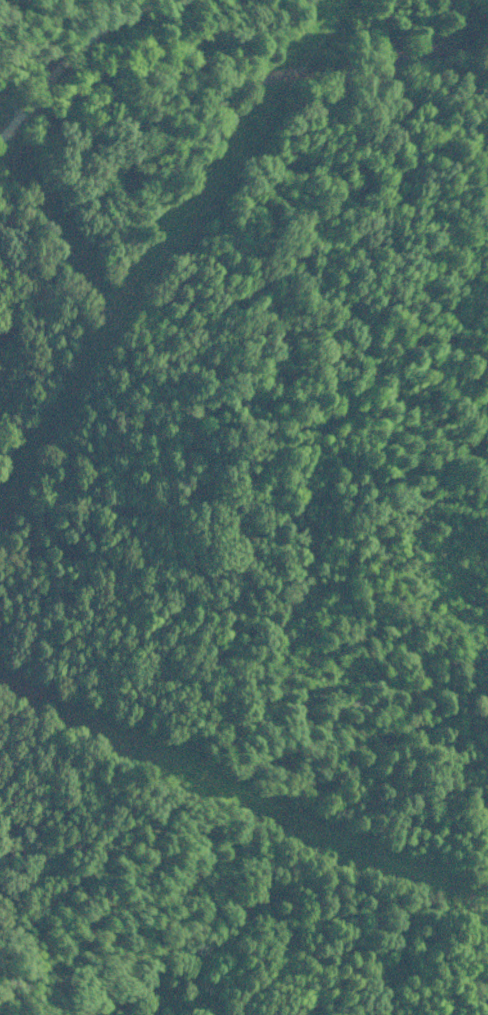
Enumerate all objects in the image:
road: (55, 128)

